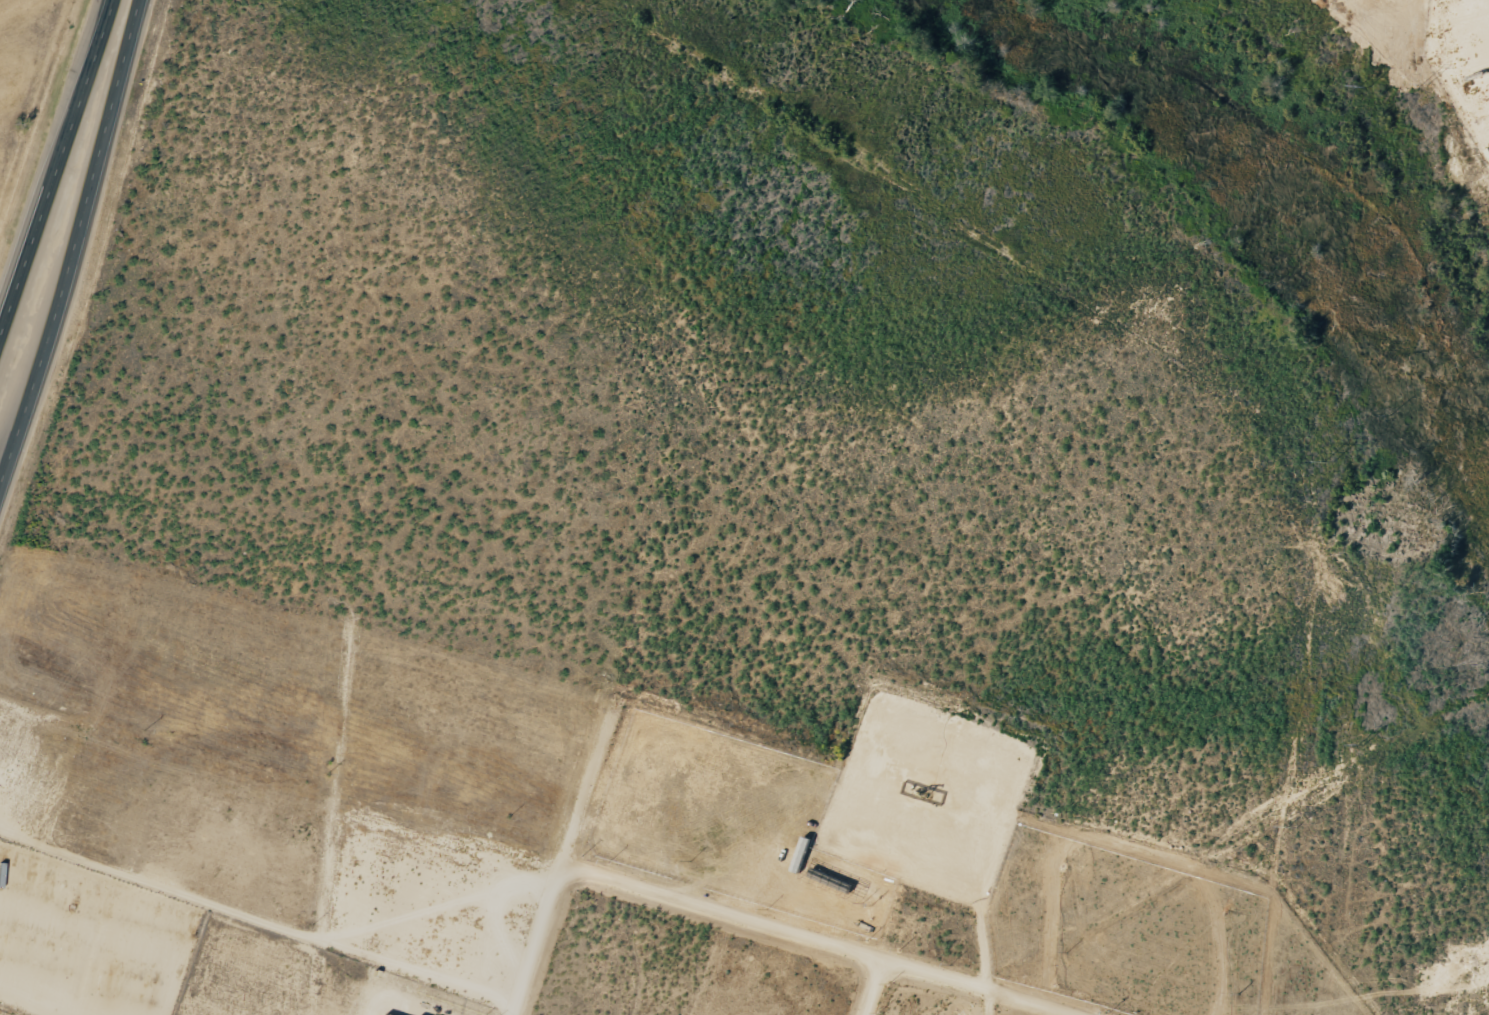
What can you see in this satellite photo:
park: (68, 2)
power tower: (1424, 85)
power tower: (1364, 90)
road: (58, 171)
road: (72, 239)
power tower: (1388, 414)
power tower: (1326, 461)
road: (1, 470)
power tower: (1358, 746)
petroleum well: (919, 785)
power tower: (1290, 829)
road: (566, 856)
road: (434, 908)
road: (256, 915)
road: (818, 939)
road: (875, 987)
building: (387, 1014)

